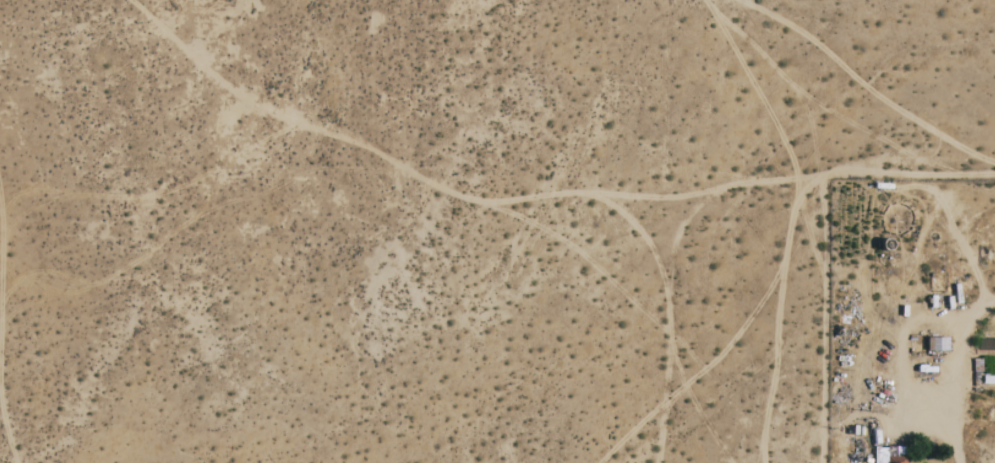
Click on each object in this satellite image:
road: (823, 323)
building: (889, 455)

